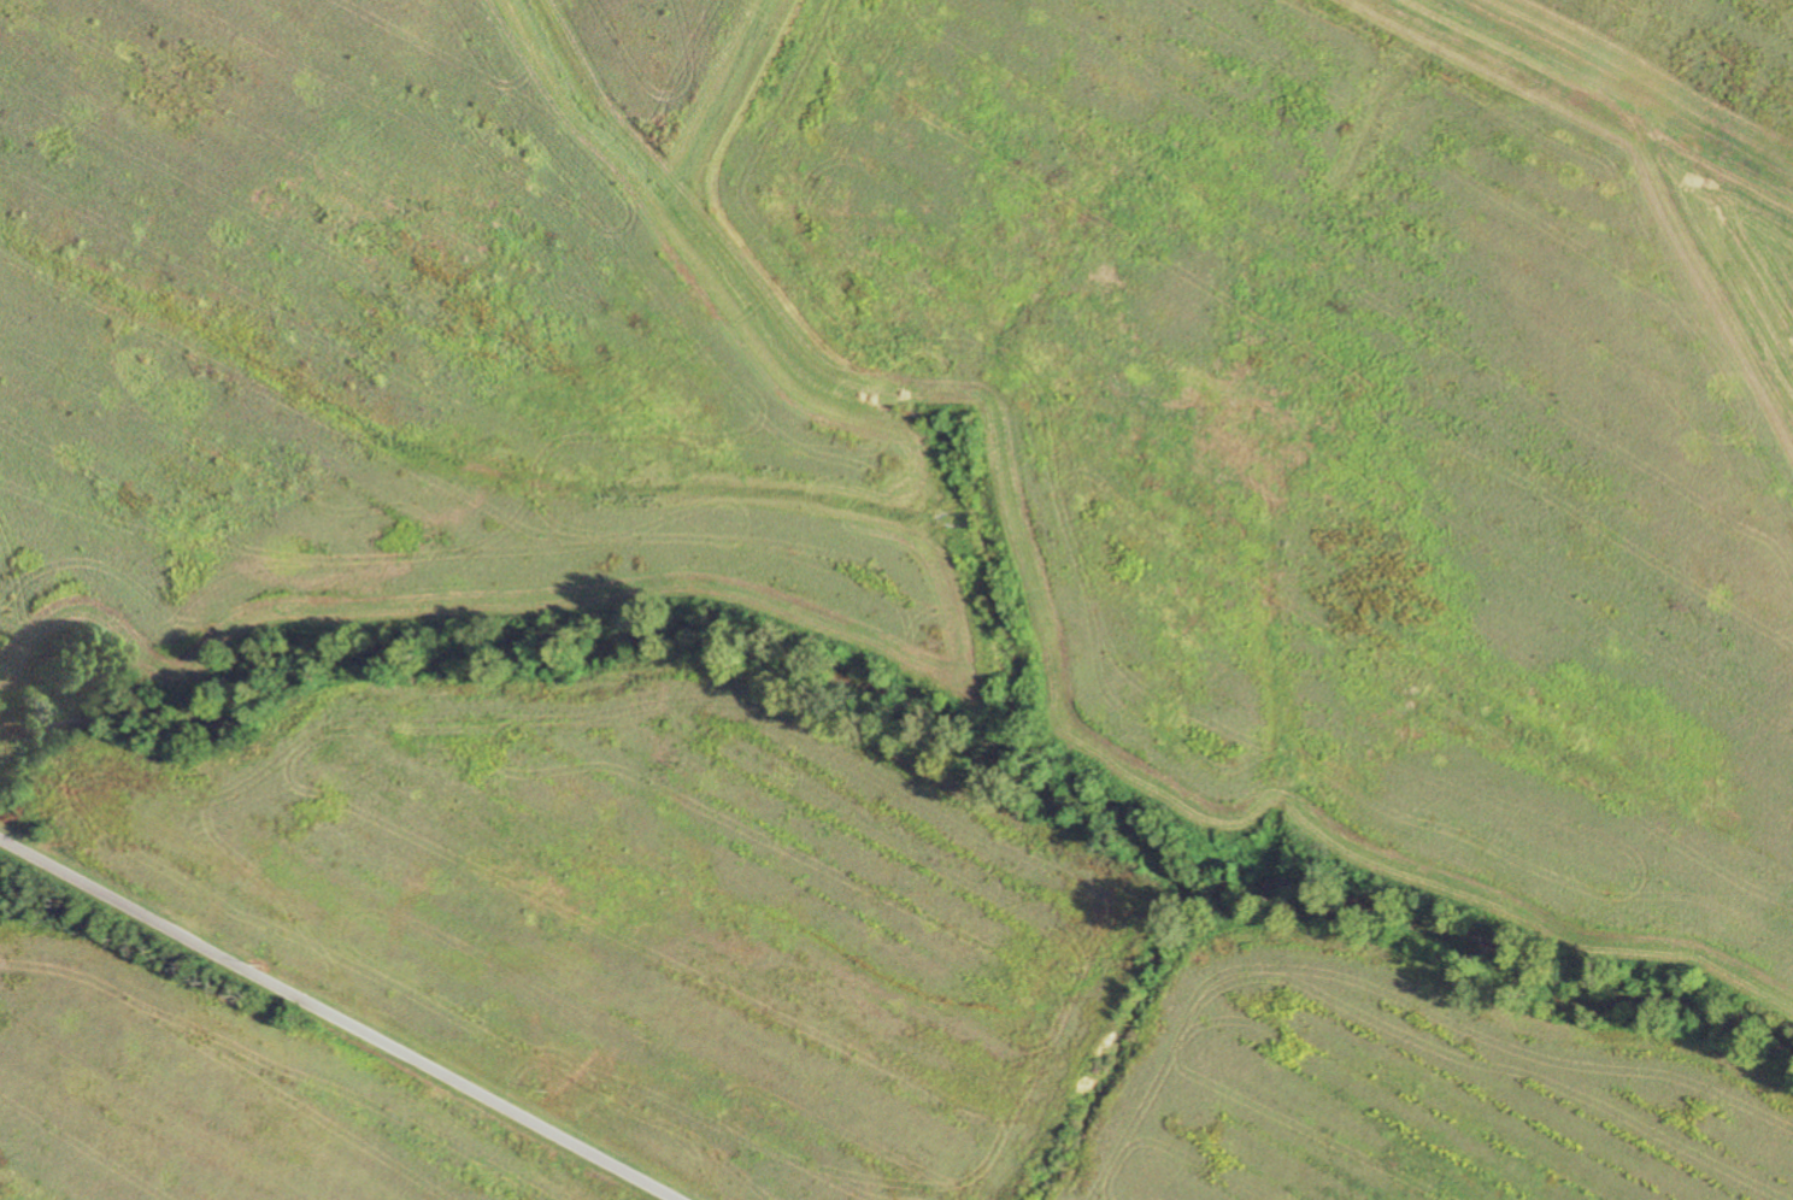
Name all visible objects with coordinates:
road: (342, 1017)

